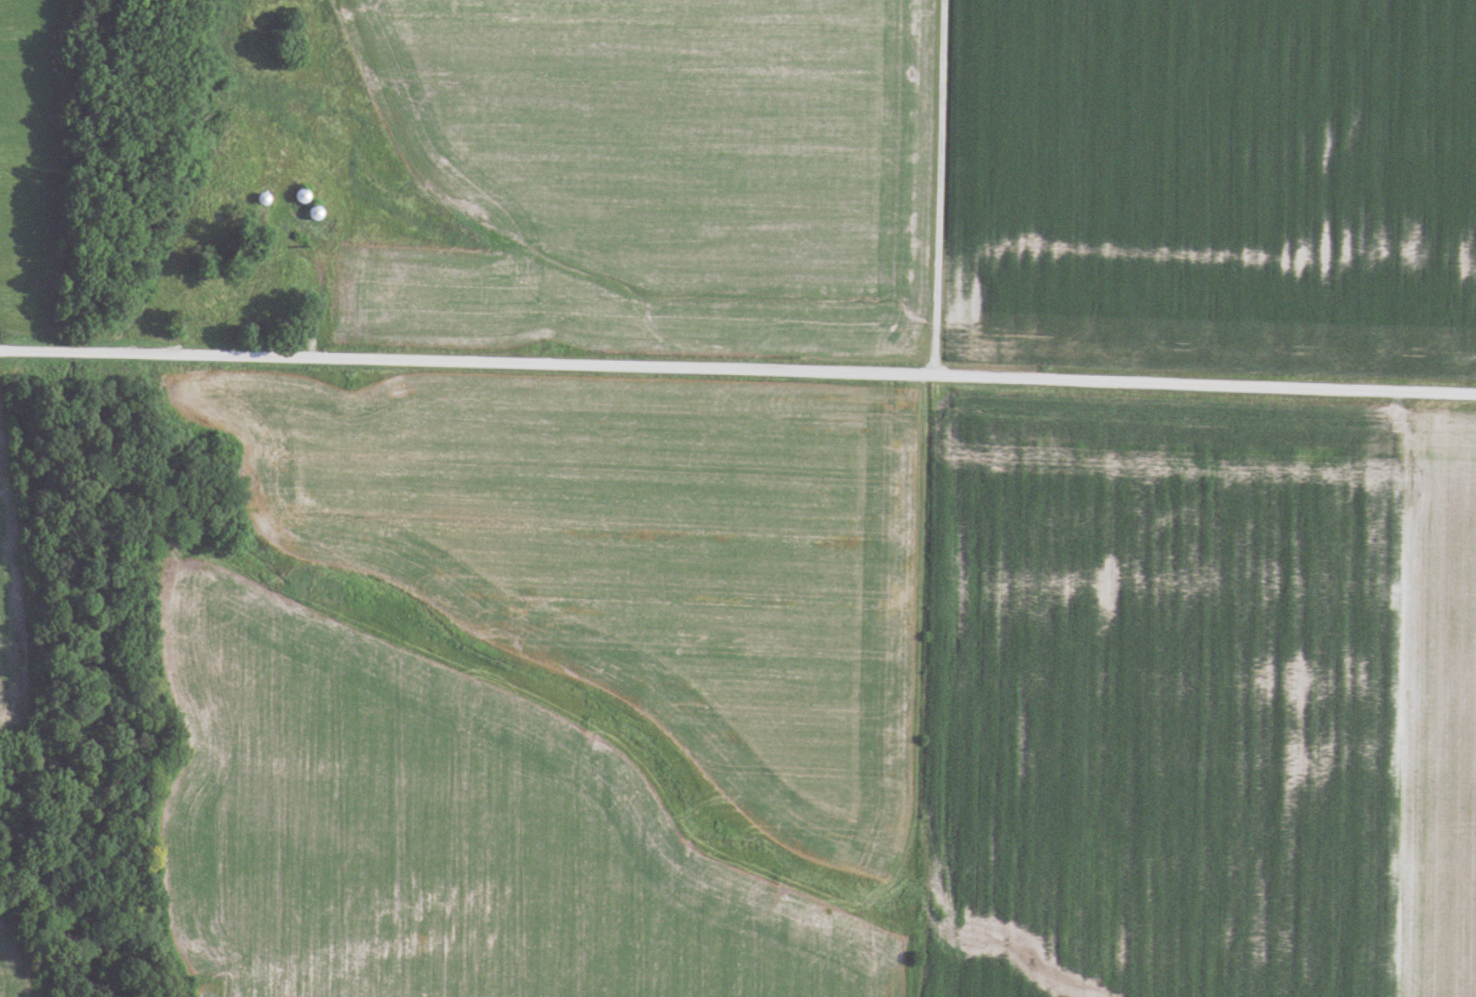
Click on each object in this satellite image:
road: (314, 291)
road: (738, 370)

